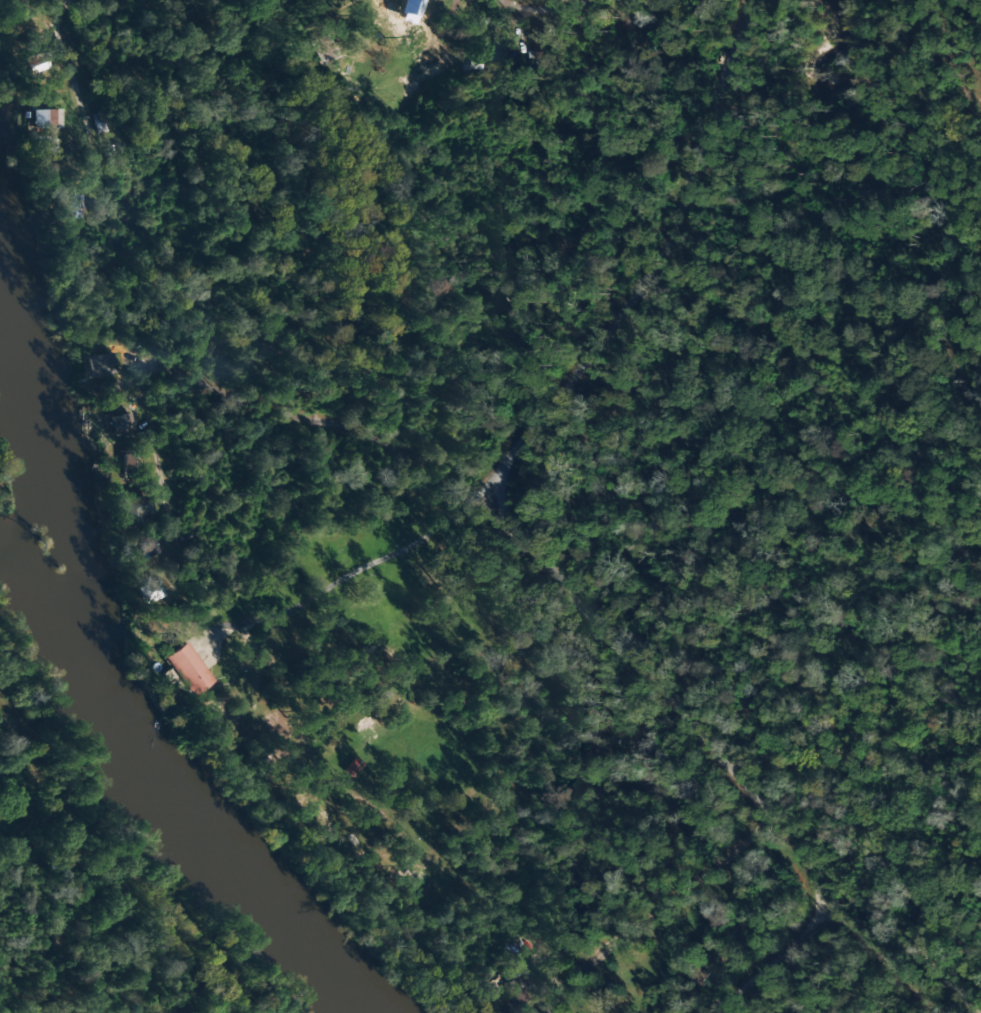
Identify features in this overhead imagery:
road: (220, 40)
building: (322, 45)
road: (234, 71)
building: (44, 119)
road: (657, 258)
road: (109, 359)
building: (101, 365)
building: (115, 422)
building: (133, 509)
road: (383, 537)
building: (146, 548)
building: (149, 592)
building: (185, 669)
road: (268, 687)
building: (230, 740)
road: (712, 743)
road: (776, 834)
road: (730, 874)
road: (727, 933)
road: (768, 973)

